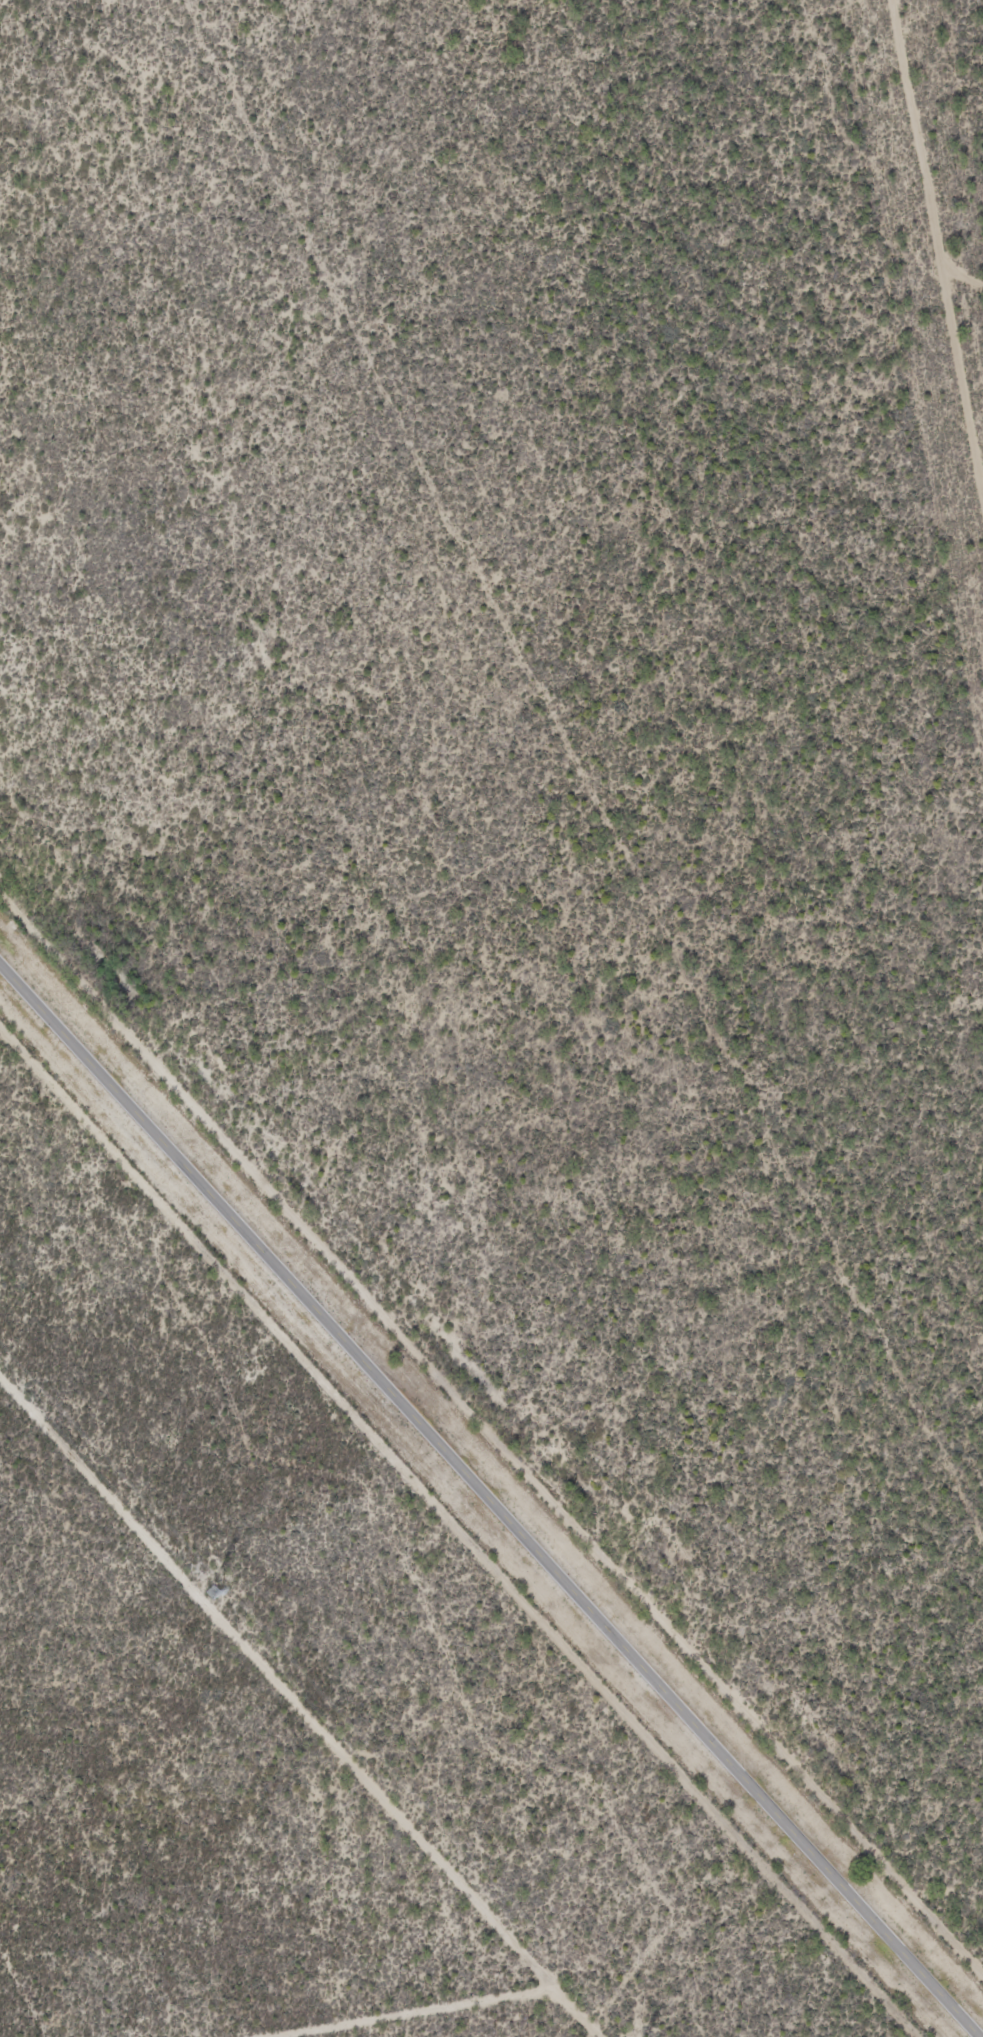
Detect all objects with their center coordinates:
power tower: (203, 1593)

